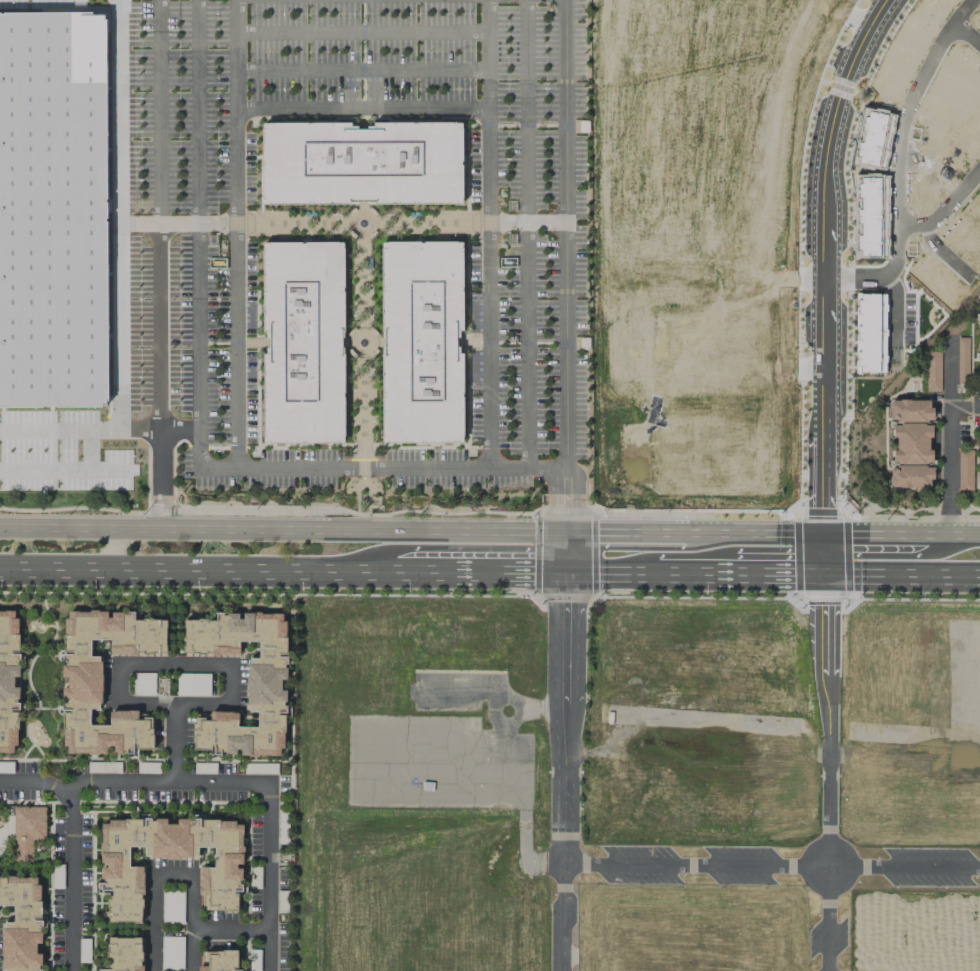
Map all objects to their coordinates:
road: (965, 12)
road: (362, 31)
road: (362, 70)
road: (361, 108)
road: (118, 111)
road: (158, 111)
road: (195, 111)
road: (235, 111)
road: (899, 158)
building: (360, 162)
building: (53, 199)
road: (946, 211)
road: (355, 214)
road: (525, 221)
road: (424, 222)
road: (138, 223)
road: (298, 223)
road: (487, 233)
road: (526, 233)
road: (564, 234)
road: (945, 253)
road: (828, 281)
road: (361, 283)
building: (978, 302)
building: (978, 319)
parking lot: (526, 331)
road: (355, 333)
road: (158, 336)
building: (420, 341)
building: (301, 342)
road: (235, 345)
building: (978, 351)
road: (970, 352)
building: (932, 371)
building: (978, 371)
building: (914, 386)
road: (913, 391)
building: (979, 393)
road: (964, 406)
road: (361, 415)
road: (948, 415)
building: (978, 419)
road: (79, 427)
road: (178, 429)
building: (909, 443)
building: (979, 444)
road: (258, 468)
building: (964, 470)
building: (979, 478)
road: (361, 479)
road: (373, 488)
road: (356, 497)
road: (367, 497)
road: (378, 502)
road: (948, 515)
road: (565, 520)
road: (282, 528)
road: (621, 532)
road: (682, 533)
road: (834, 533)
road: (226, 571)
road: (510, 572)
traffic signals: (567, 572)
road: (773, 573)
road: (215, 667)
building: (82, 672)
building: (8, 680)
building: (263, 684)
road: (567, 771)
road: (829, 772)
road: (35, 780)
road: (264, 782)
building: (27, 830)
road: (773, 866)
road: (70, 876)
building: (121, 878)
road: (153, 878)
building: (21, 924)
road: (231, 932)
road: (192, 951)
building: (124, 954)
building: (219, 961)

